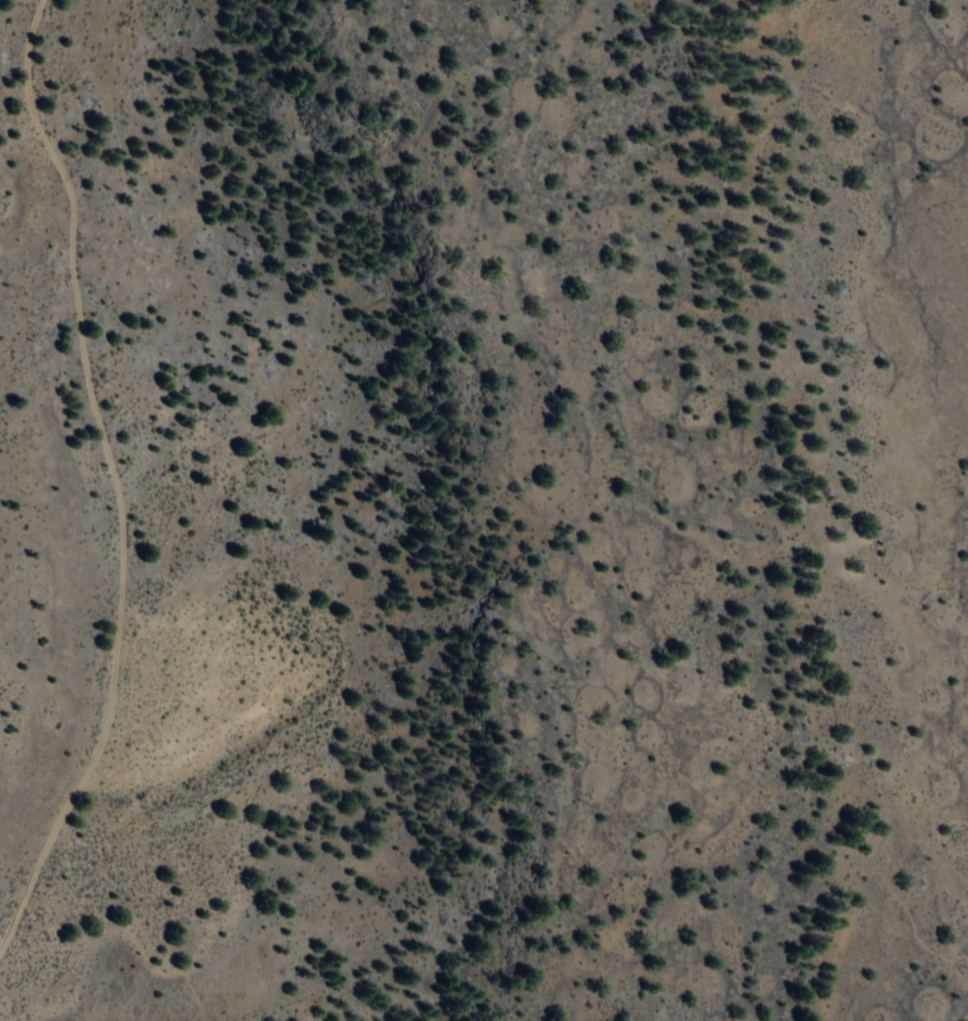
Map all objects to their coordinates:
road: (117, 482)

